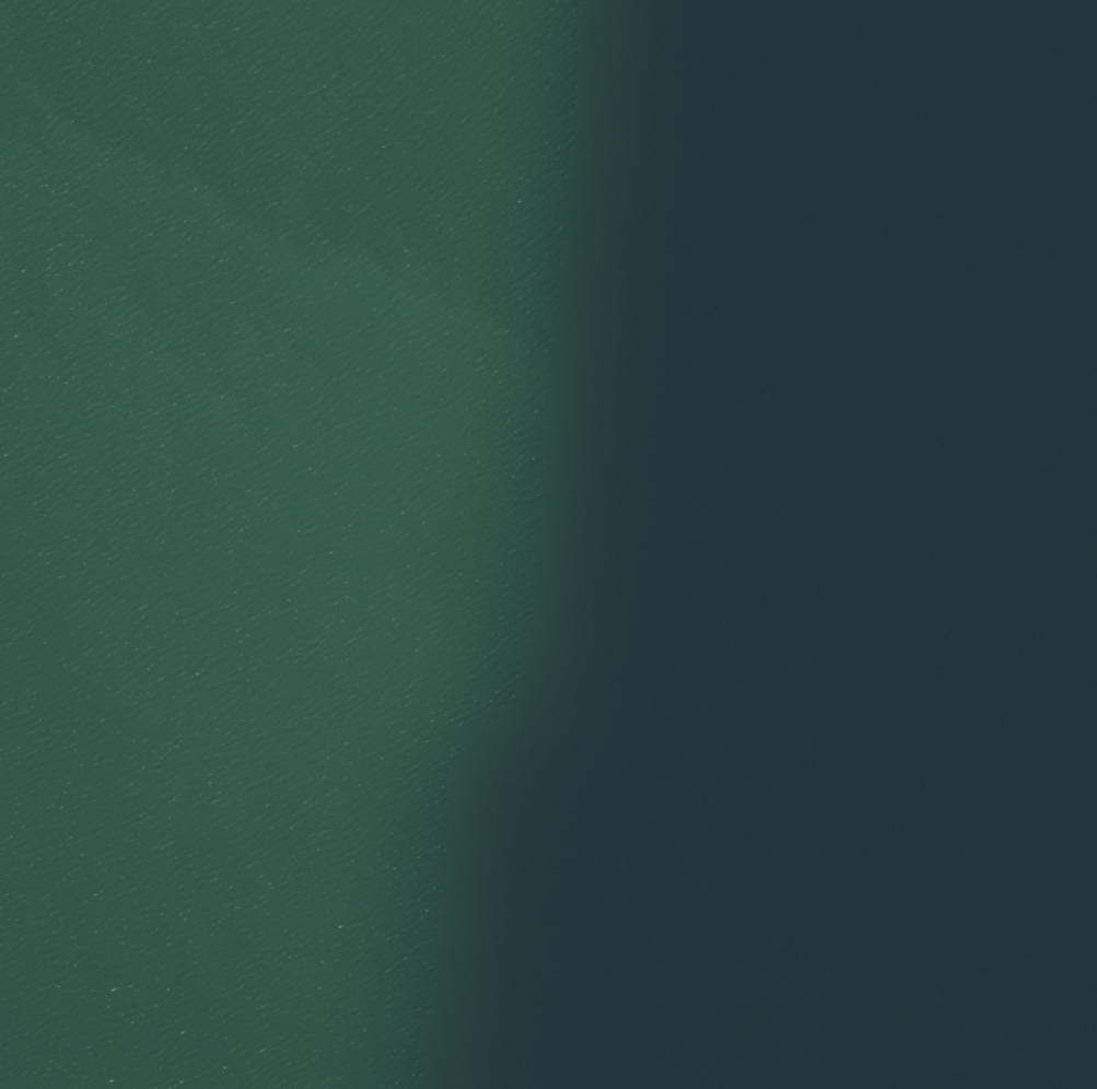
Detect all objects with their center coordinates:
river: (840, 307)

